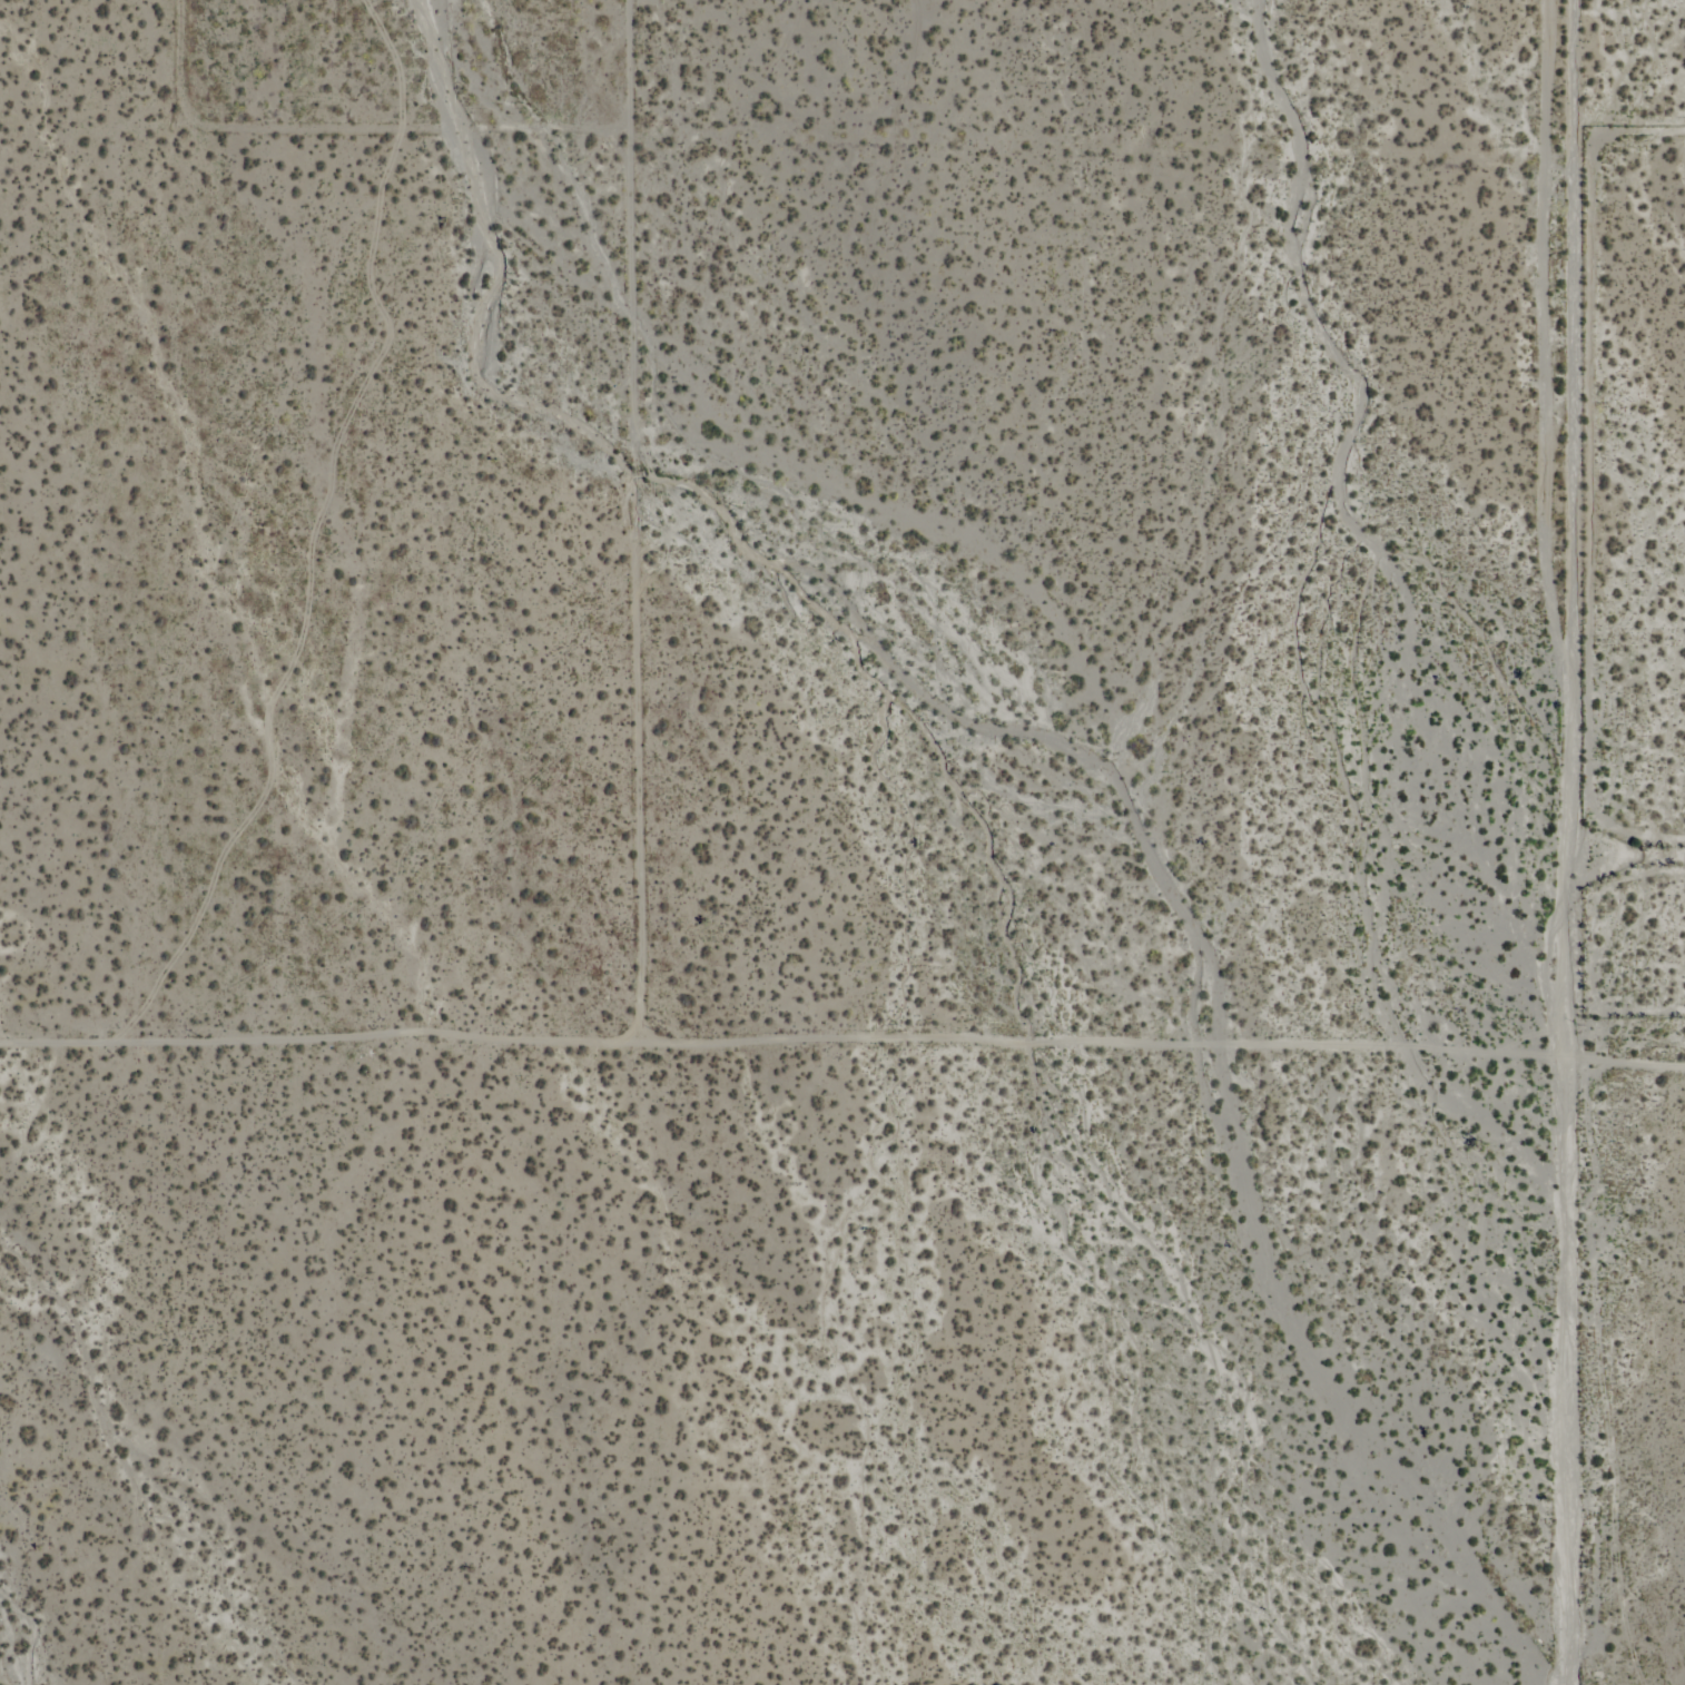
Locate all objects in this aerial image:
road: (1629, 120)
road: (1574, 842)
road: (1629, 855)
road: (1627, 1060)

